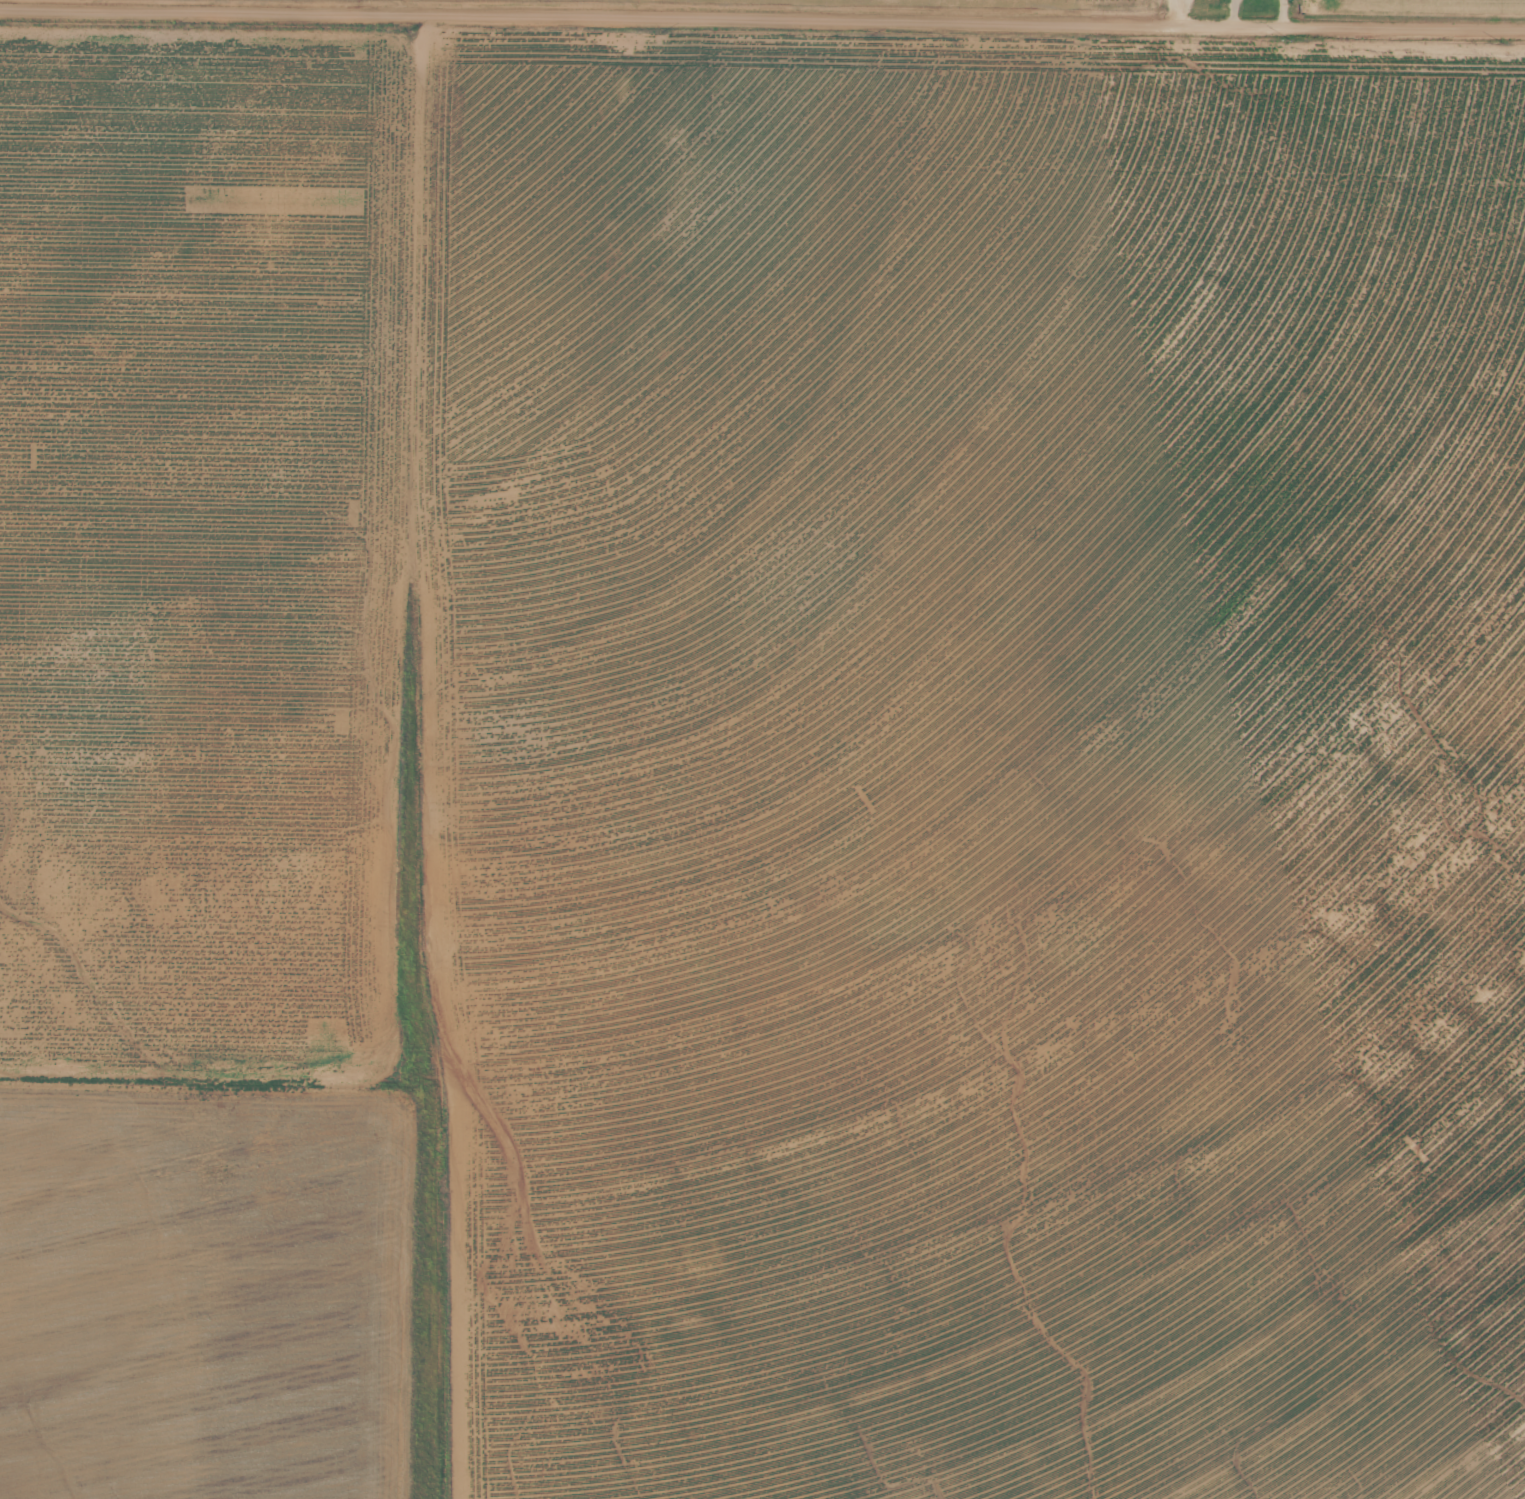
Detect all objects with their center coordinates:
road: (762, 41)

